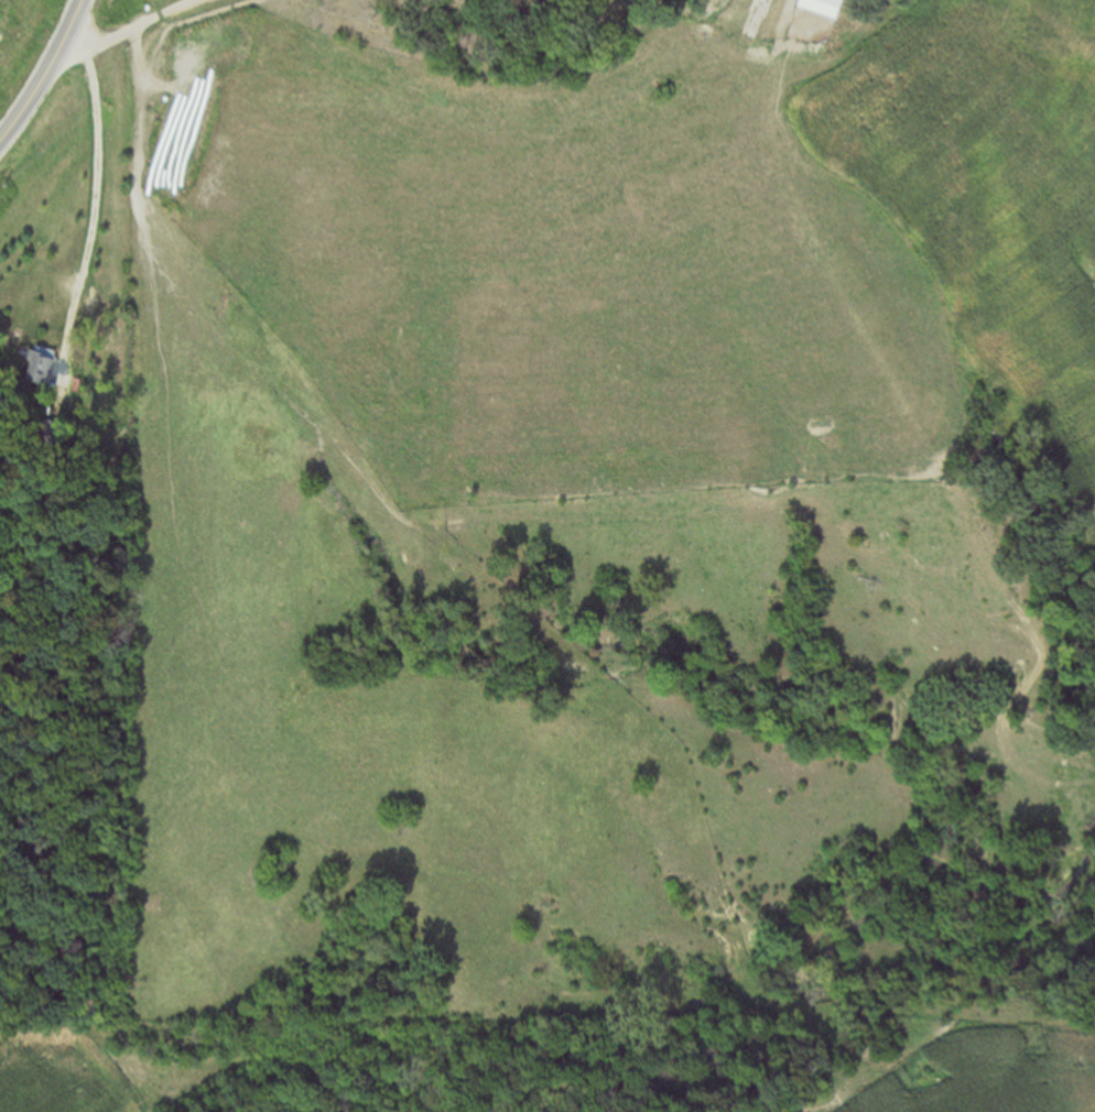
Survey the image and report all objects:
building: (828, 7)
building: (761, 18)
road: (73, 22)
road: (131, 28)
road: (33, 94)
building: (43, 367)

